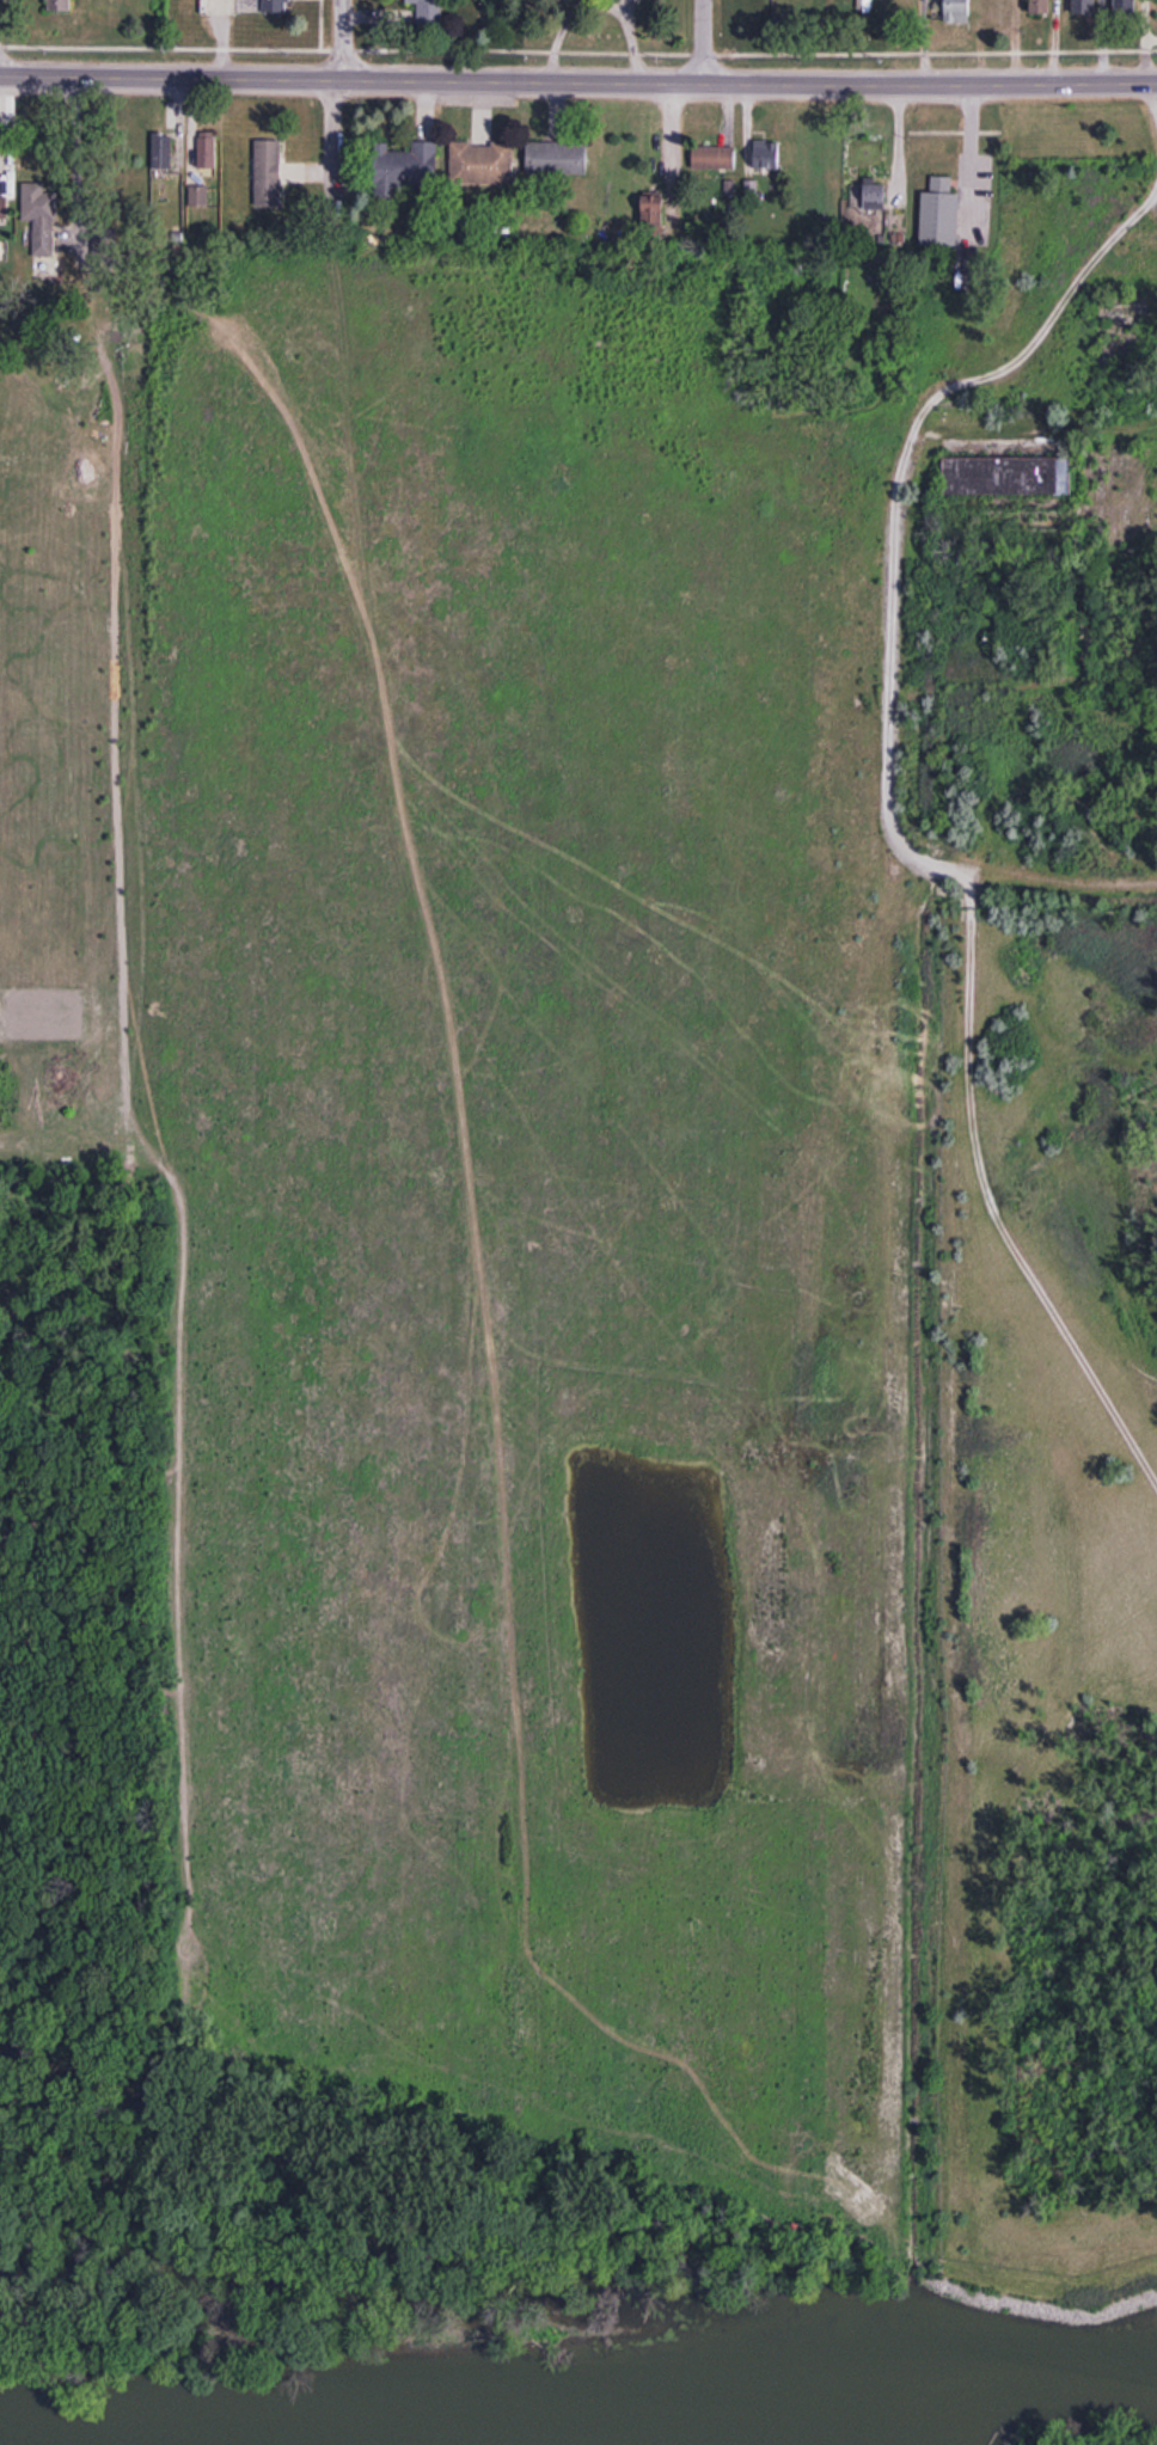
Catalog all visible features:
building: (60, 7)
building: (276, 7)
building: (1040, 7)
building: (1084, 8)
building: (1125, 8)
building: (951, 11)
building: (429, 13)
building: (994, 14)
road: (703, 42)
road: (578, 82)
road: (337, 116)
building: (207, 153)
building: (163, 154)
building: (767, 158)
building: (715, 160)
building: (558, 161)
building: (483, 166)
building: (406, 171)
building: (269, 176)
building: (200, 198)
building: (865, 207)
building: (4, 209)
building: (939, 214)
building: (654, 217)
building: (41, 220)
building: (1006, 476)

